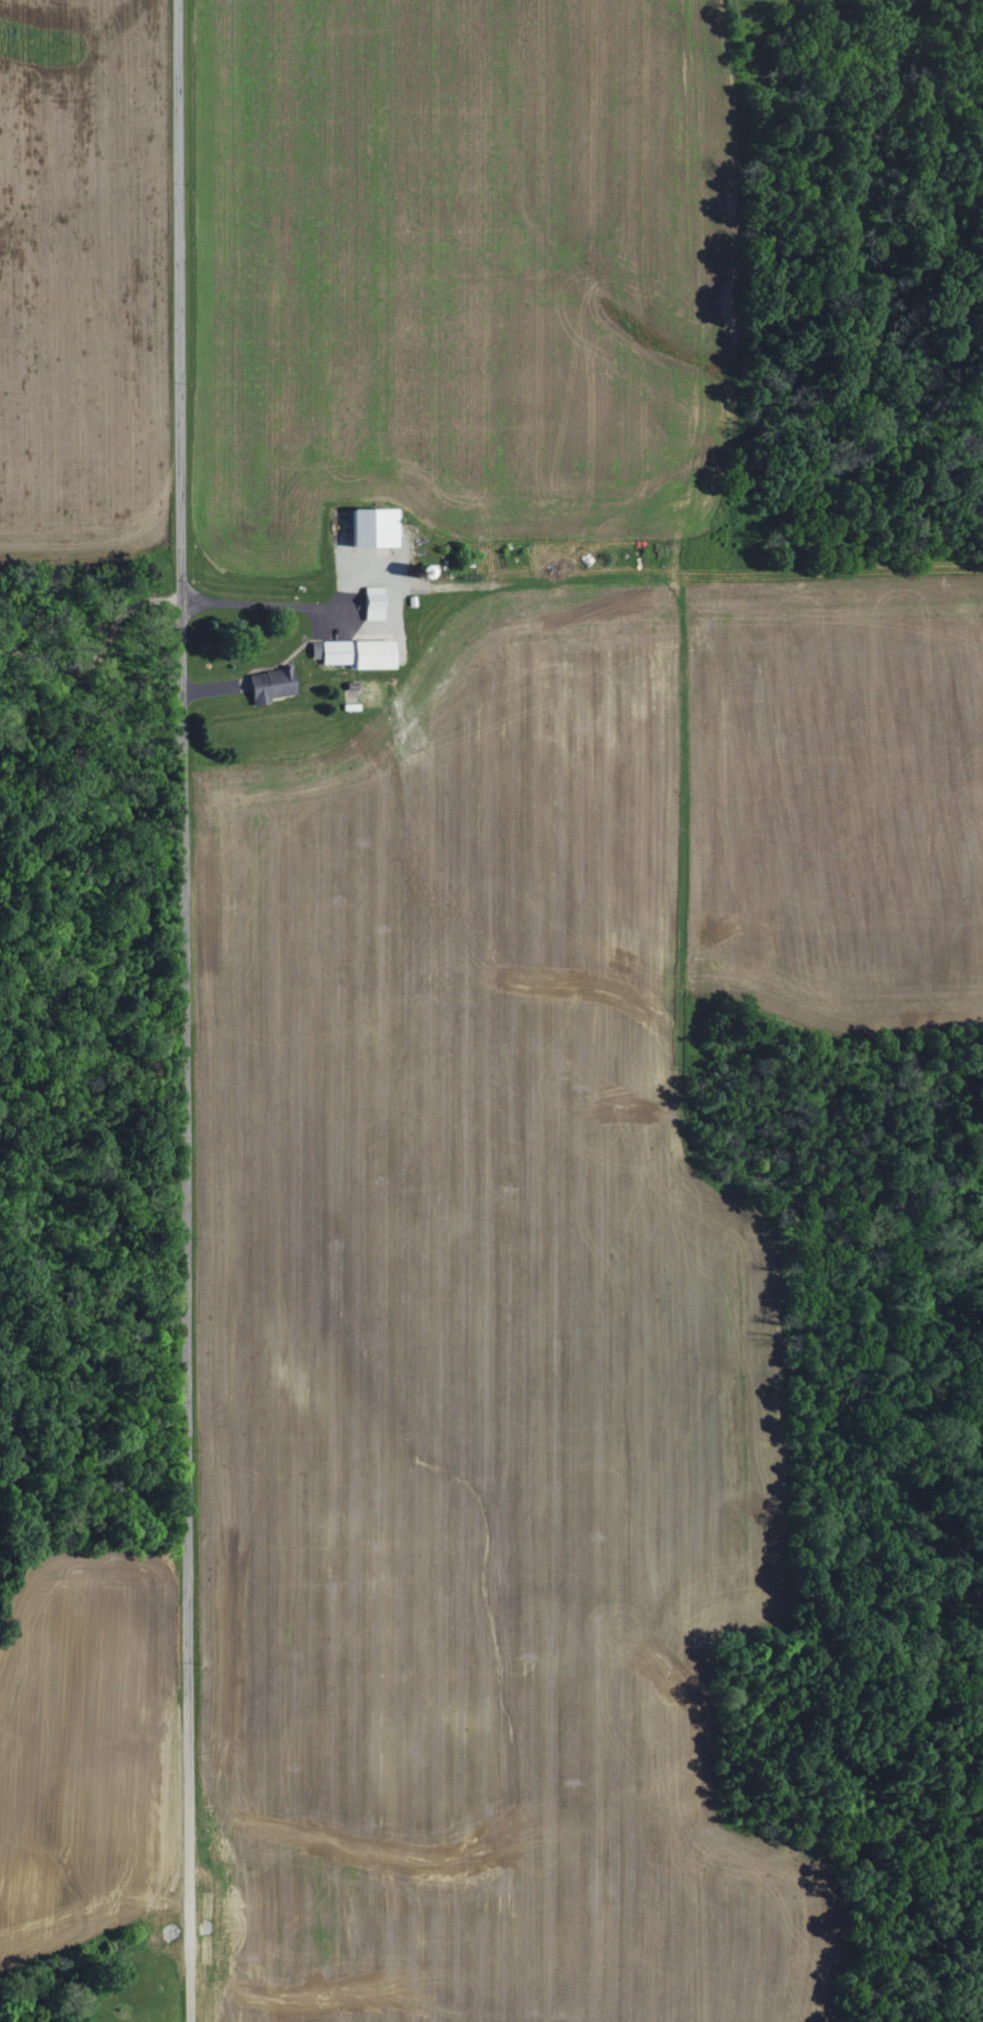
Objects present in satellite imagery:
building: (368, 526)
building: (368, 603)
road: (297, 608)
building: (355, 653)
building: (265, 685)
road: (182, 1010)

